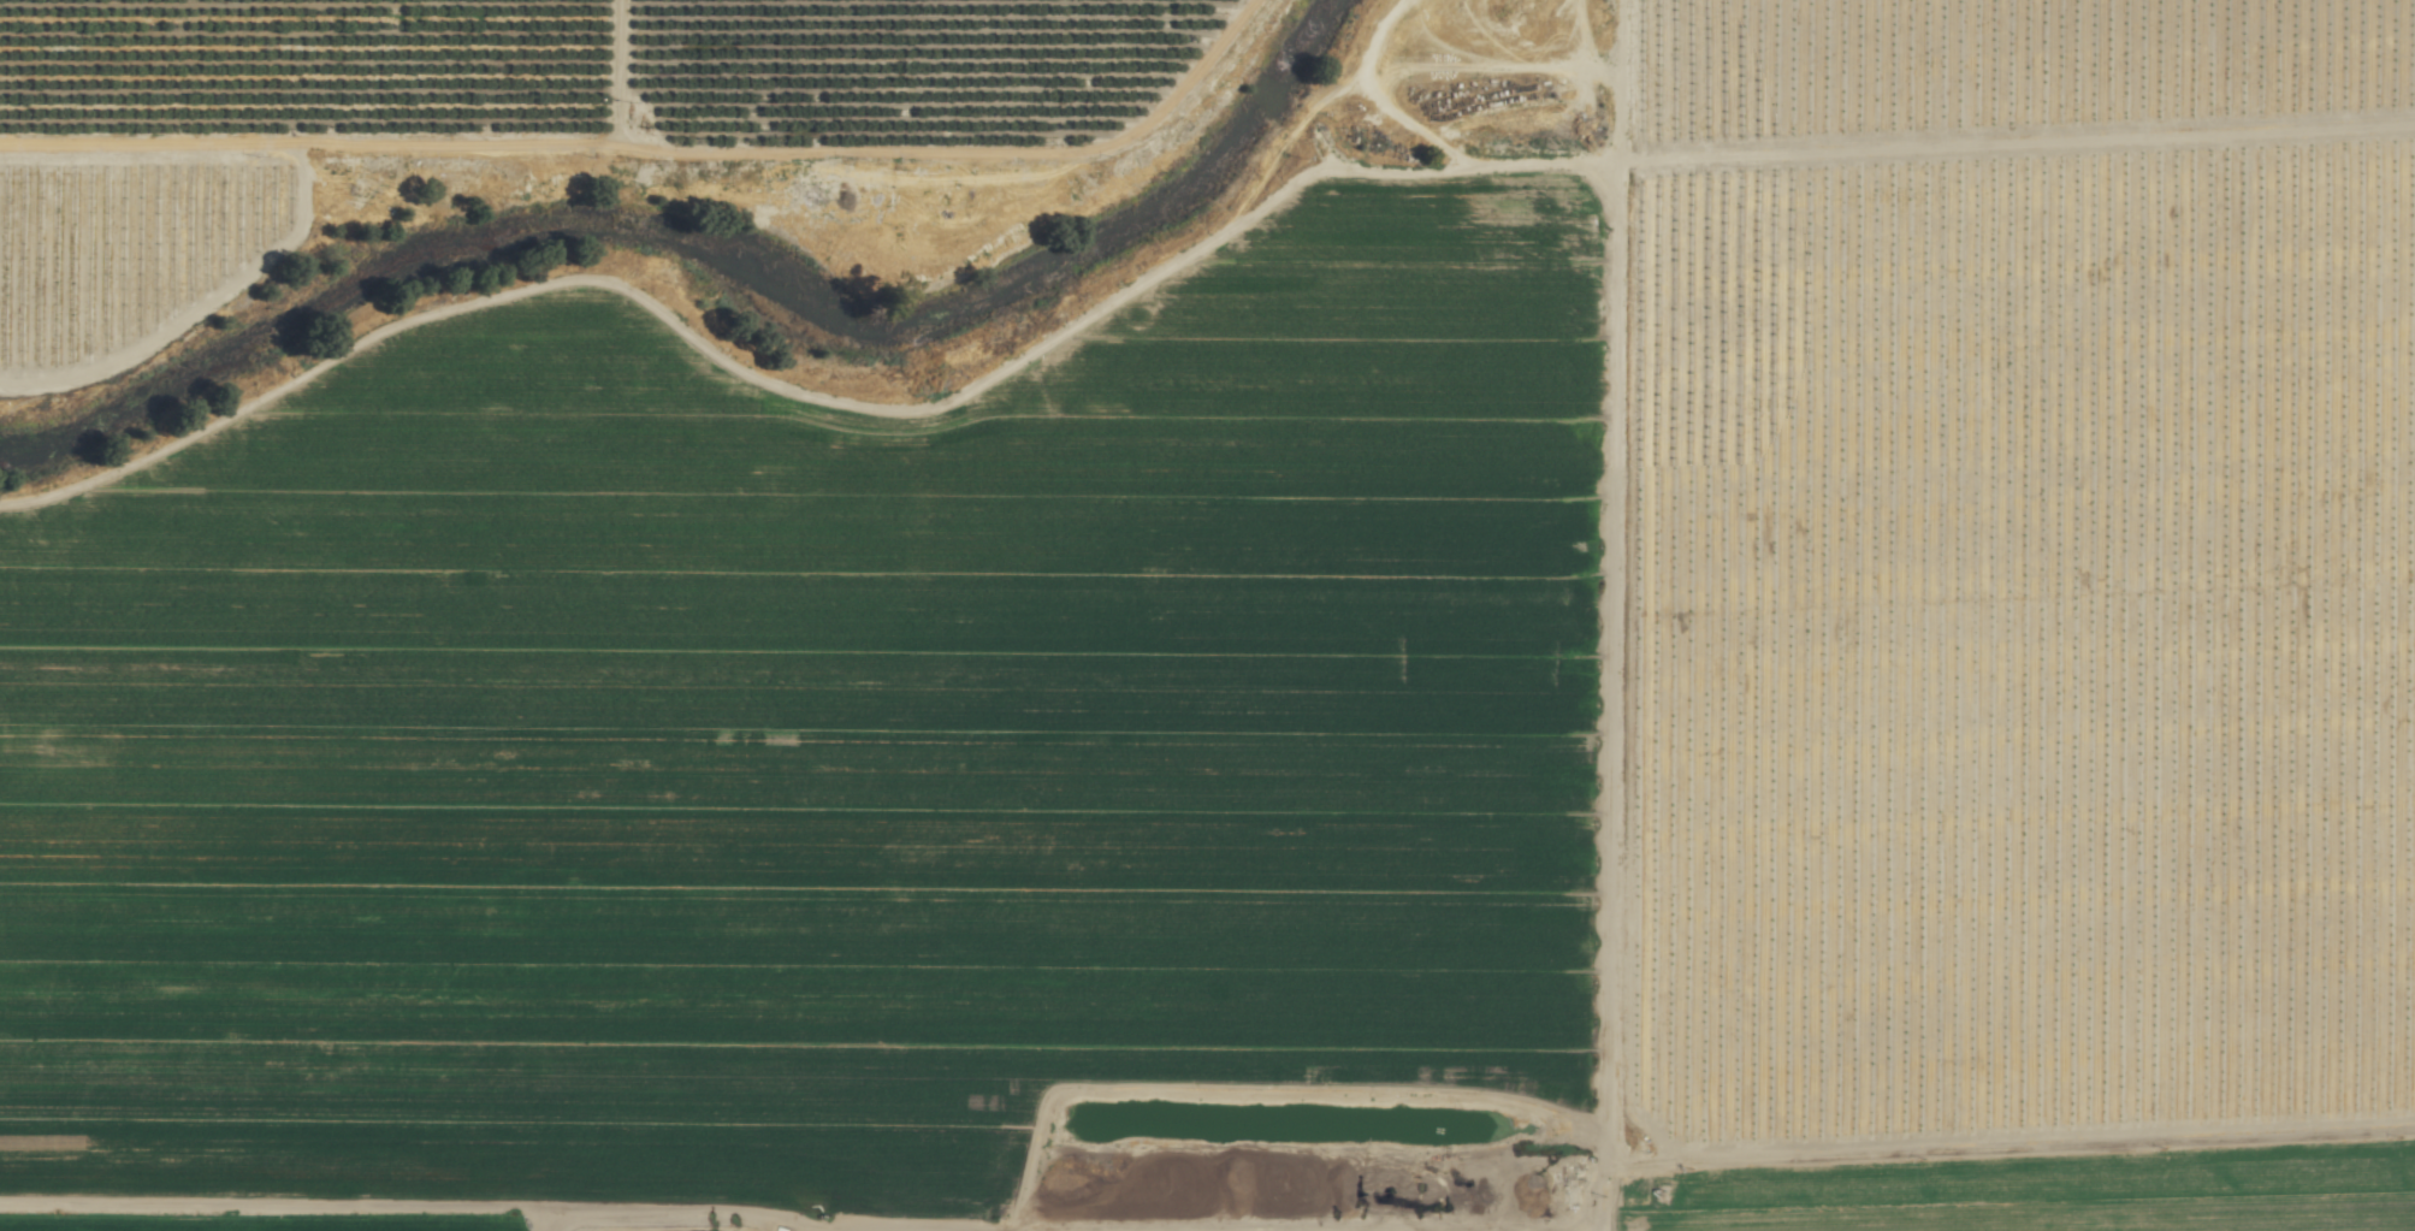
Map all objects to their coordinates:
road: (652, 146)
road: (753, 1220)

